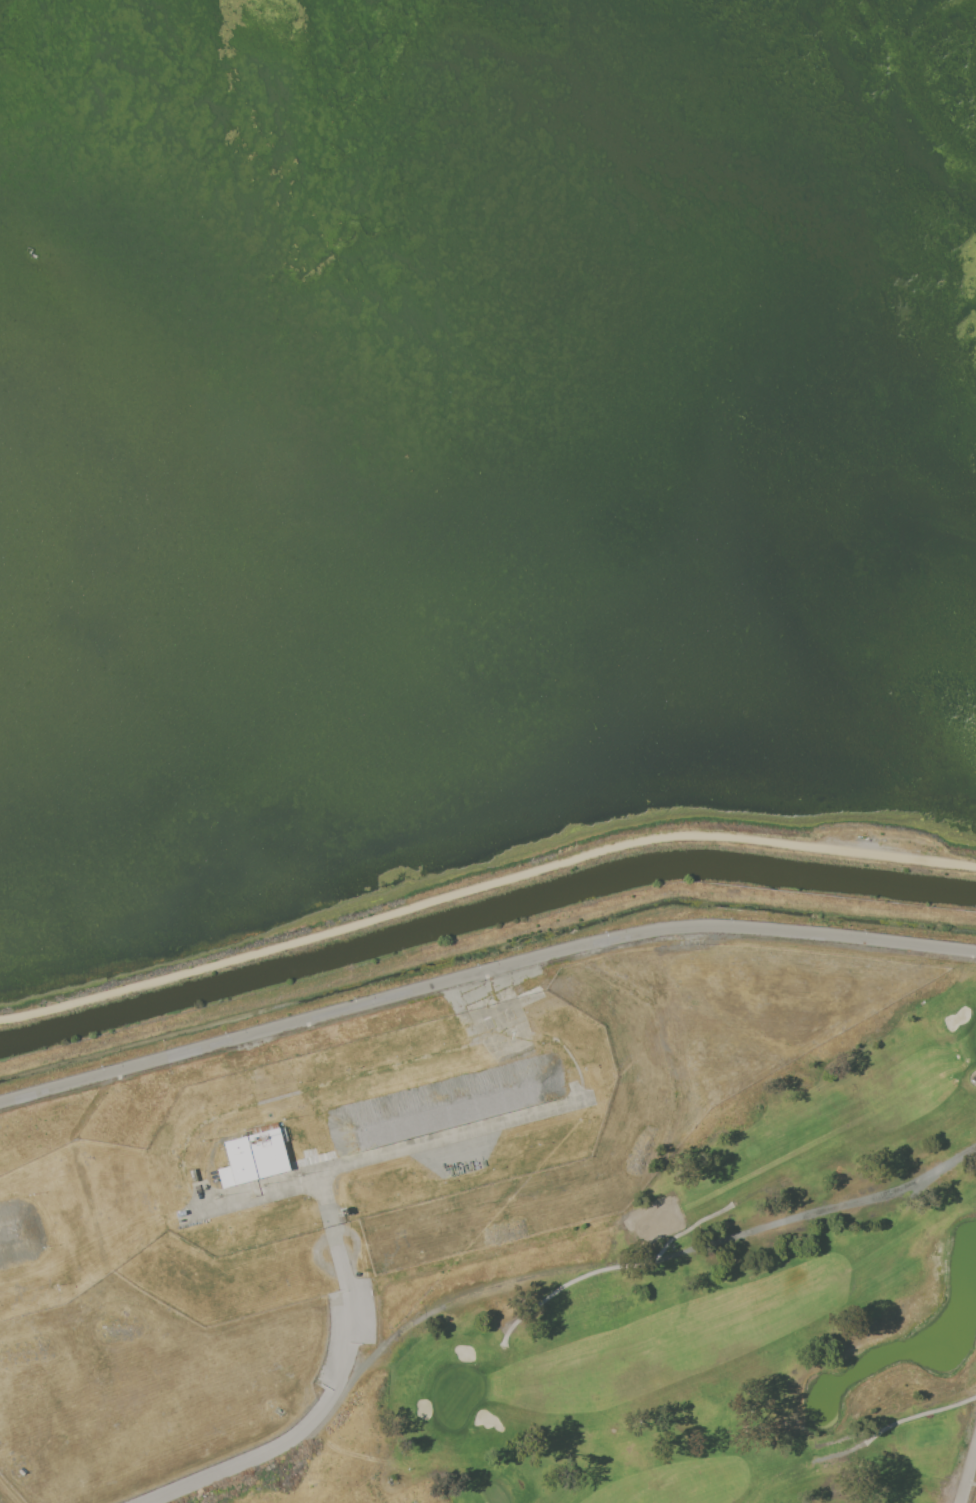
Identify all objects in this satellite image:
building: (30, 254)
road: (483, 886)
road: (482, 972)
road: (385, 1154)
building: (253, 1158)
park: (709, 1309)
road: (335, 1389)
road: (968, 1477)

